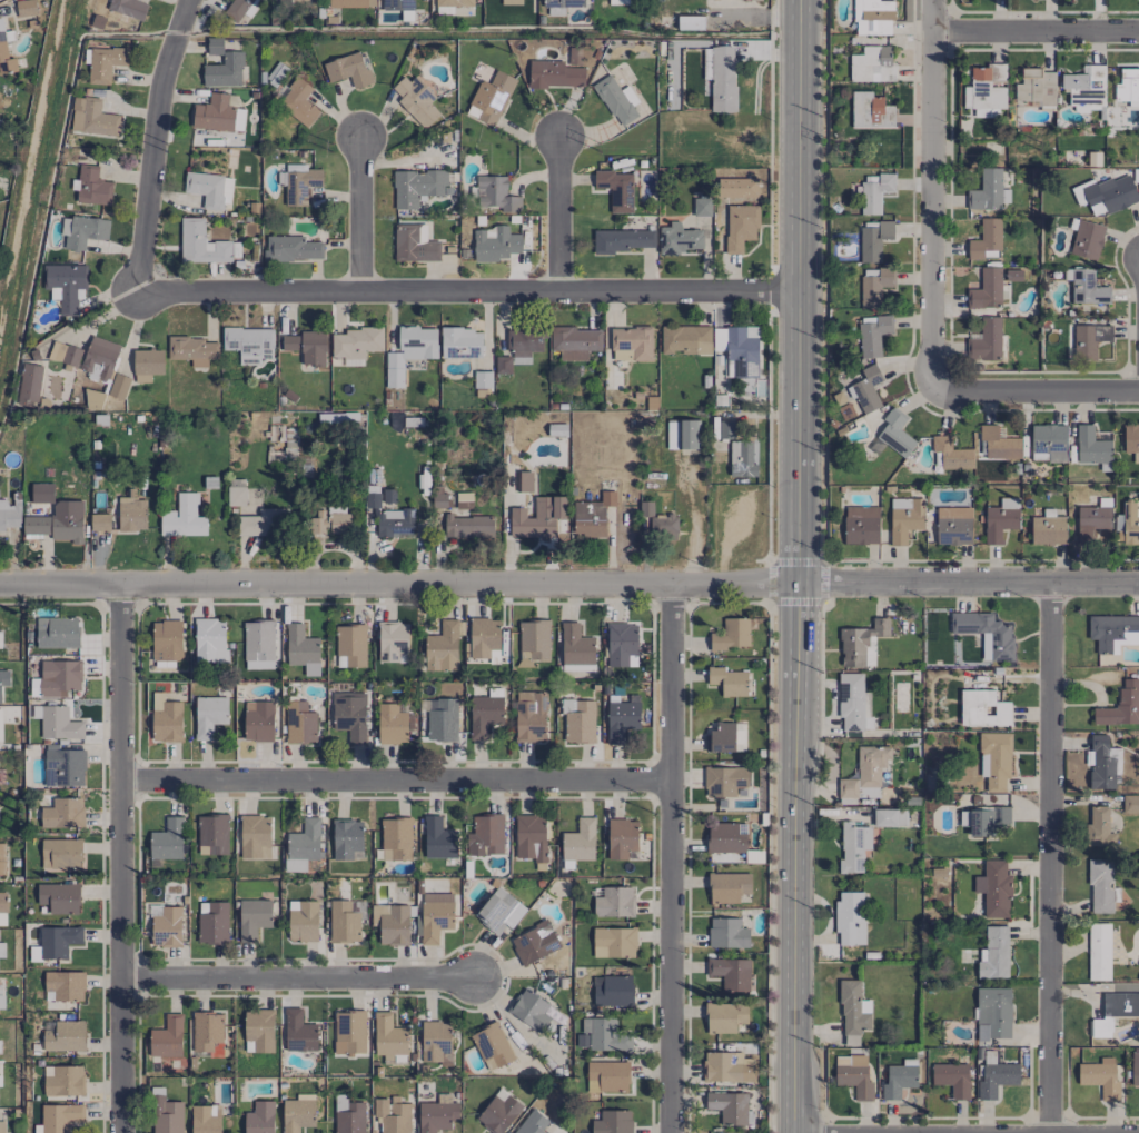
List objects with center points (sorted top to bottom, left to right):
building: (306, 0)
building: (759, 0)
building: (453, 2)
building: (511, 2)
building: (617, 2)
building: (349, 3)
building: (397, 4)
building: (559, 6)
building: (24, 8)
building: (127, 8)
building: (236, 8)
building: (872, 17)
building: (690, 22)
road: (1034, 33)
building: (4, 53)
building: (103, 63)
building: (872, 64)
building: (221, 66)
building: (279, 68)
building: (348, 70)
building: (554, 74)
building: (722, 79)
building: (988, 87)
building: (1037, 87)
building: (1086, 87)
building: (1128, 87)
building: (491, 98)
building: (416, 100)
building: (616, 100)
building: (299, 102)
building: (870, 111)
building: (219, 113)
building: (92, 118)
road: (155, 145)
building: (299, 185)
building: (92, 186)
building: (417, 187)
building: (209, 189)
building: (616, 189)
building: (988, 191)
building: (495, 193)
building: (875, 193)
building: (1112, 193)
building: (1138, 193)
road: (931, 195)
building: (702, 207)
road: (360, 213)
road: (557, 213)
building: (740, 227)
building: (85, 231)
building: (679, 239)
building: (621, 240)
building: (873, 240)
building: (986, 240)
building: (1087, 240)
building: (200, 244)
building: (414, 244)
building: (495, 245)
building: (291, 248)
building: (66, 286)
building: (874, 286)
building: (1087, 288)
building: (986, 289)
road: (467, 290)
building: (685, 339)
building: (1089, 339)
building: (986, 340)
building: (460, 342)
building: (575, 342)
building: (248, 344)
building: (524, 344)
building: (631, 344)
building: (719, 344)
building: (355, 345)
building: (306, 347)
building: (192, 350)
building: (742, 350)
building: (409, 351)
building: (63, 354)
building: (99, 358)
building: (147, 365)
building: (503, 365)
building: (483, 379)
building: (29, 385)
building: (118, 386)
building: (866, 389)
road: (1036, 391)
building: (93, 399)
building: (557, 429)
building: (725, 429)
building: (895, 433)
building: (681, 435)
building: (290, 441)
building: (998, 443)
building: (1049, 443)
building: (1091, 446)
building: (950, 455)
building: (741, 460)
building: (524, 481)
building: (41, 493)
building: (236, 493)
building: (373, 497)
building: (439, 500)
building: (464, 500)
building: (131, 514)
building: (8, 515)
building: (592, 516)
building: (182, 517)
building: (537, 517)
building: (333, 518)
building: (904, 518)
building: (1000, 519)
building: (99, 521)
building: (658, 521)
building: (1092, 521)
building: (58, 523)
building: (394, 523)
building: (260, 524)
building: (1127, 524)
building: (861, 525)
building: (953, 526)
building: (465, 527)
building: (1048, 530)
road: (796, 566)
road: (569, 584)
building: (1113, 632)
building: (57, 633)
building: (986, 633)
building: (733, 634)
building: (483, 637)
building: (0, 640)
building: (210, 640)
building: (393, 642)
building: (533, 642)
building: (167, 643)
building: (621, 643)
building: (861, 644)
building: (258, 645)
building: (350, 646)
building: (442, 647)
building: (301, 648)
building: (576, 649)
building: (59, 677)
building: (3, 679)
building: (727, 682)
building: (157, 700)
building: (853, 703)
building: (1120, 706)
building: (982, 708)
building: (209, 715)
building: (484, 715)
building: (350, 716)
building: (529, 716)
building: (442, 719)
building: (258, 720)
building: (621, 720)
building: (167, 723)
building: (299, 723)
building: (580, 723)
building: (59, 724)
building: (392, 724)
building: (0, 726)
building: (721, 737)
building: (994, 759)
building: (1102, 763)
building: (63, 766)
building: (864, 774)
road: (396, 781)
building: (723, 781)
building: (0, 782)
building: (1130, 803)
building: (63, 814)
building: (890, 817)
building: (984, 819)
building: (1100, 827)
building: (212, 834)
building: (484, 835)
building: (255, 837)
building: (529, 837)
building: (725, 837)
building: (346, 838)
building: (395, 838)
building: (621, 838)
building: (167, 839)
building: (438, 839)
building: (578, 841)
building: (303, 846)
building: (853, 847)
building: (60, 854)
road: (1050, 856)
road: (121, 857)
road: (670, 858)
building: (2, 859)
building: (727, 886)
building: (1100, 886)
building: (993, 888)
building: (59, 897)
building: (613, 902)
building: (2, 908)
building: (499, 911)
building: (435, 915)
building: (254, 917)
building: (850, 918)
building: (345, 920)
building: (303, 921)
building: (212, 923)
building: (390, 924)
building: (166, 927)
building: (727, 933)
building: (58, 941)
building: (614, 942)
building: (534, 943)
building: (1, 947)
building: (1098, 952)
building: (994, 953)
building: (730, 973)
road: (299, 978)
building: (65, 985)
building: (613, 991)
building: (1, 997)
building: (1120, 1004)
building: (853, 1008)
building: (529, 1010)
building: (992, 1013)
building: (724, 1016)
building: (1100, 1027)
building: (259, 1030)
building: (350, 1030)
building: (299, 1032)
building: (207, 1033)
building: (604, 1035)
building: (65, 1036)
building: (167, 1037)
building: (389, 1040)
building: (851, 1040)
building: (436, 1043)
building: (492, 1046)
building: (726, 1067)
building: (1135, 1069)
building: (854, 1075)
building: (607, 1076)
building: (1100, 1077)
building: (899, 1079)
building: (952, 1079)
building: (996, 1079)
building: (63, 1081)
building: (730, 1107)
building: (297, 1114)
building: (498, 1114)
building: (166, 1115)
building: (348, 1115)
building: (393, 1115)
building: (59, 1116)
building: (436, 1116)
building: (259, 1117)
building: (205, 1119)
building: (612, 1122)
building: (532, 1123)
building: (1, 1126)

